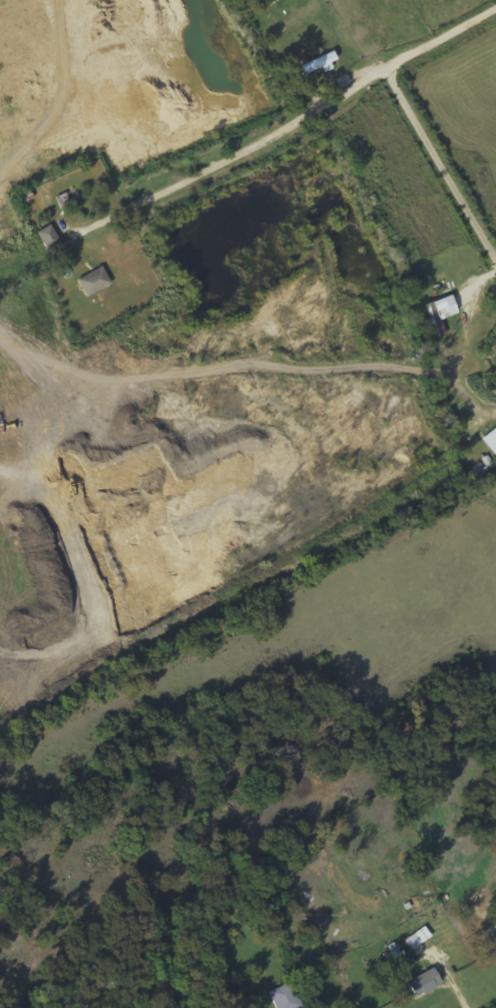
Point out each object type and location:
building: (324, 61)
building: (5, 84)
road: (252, 144)
road: (439, 166)
building: (47, 237)
building: (93, 281)
building: (422, 983)
building: (284, 997)

